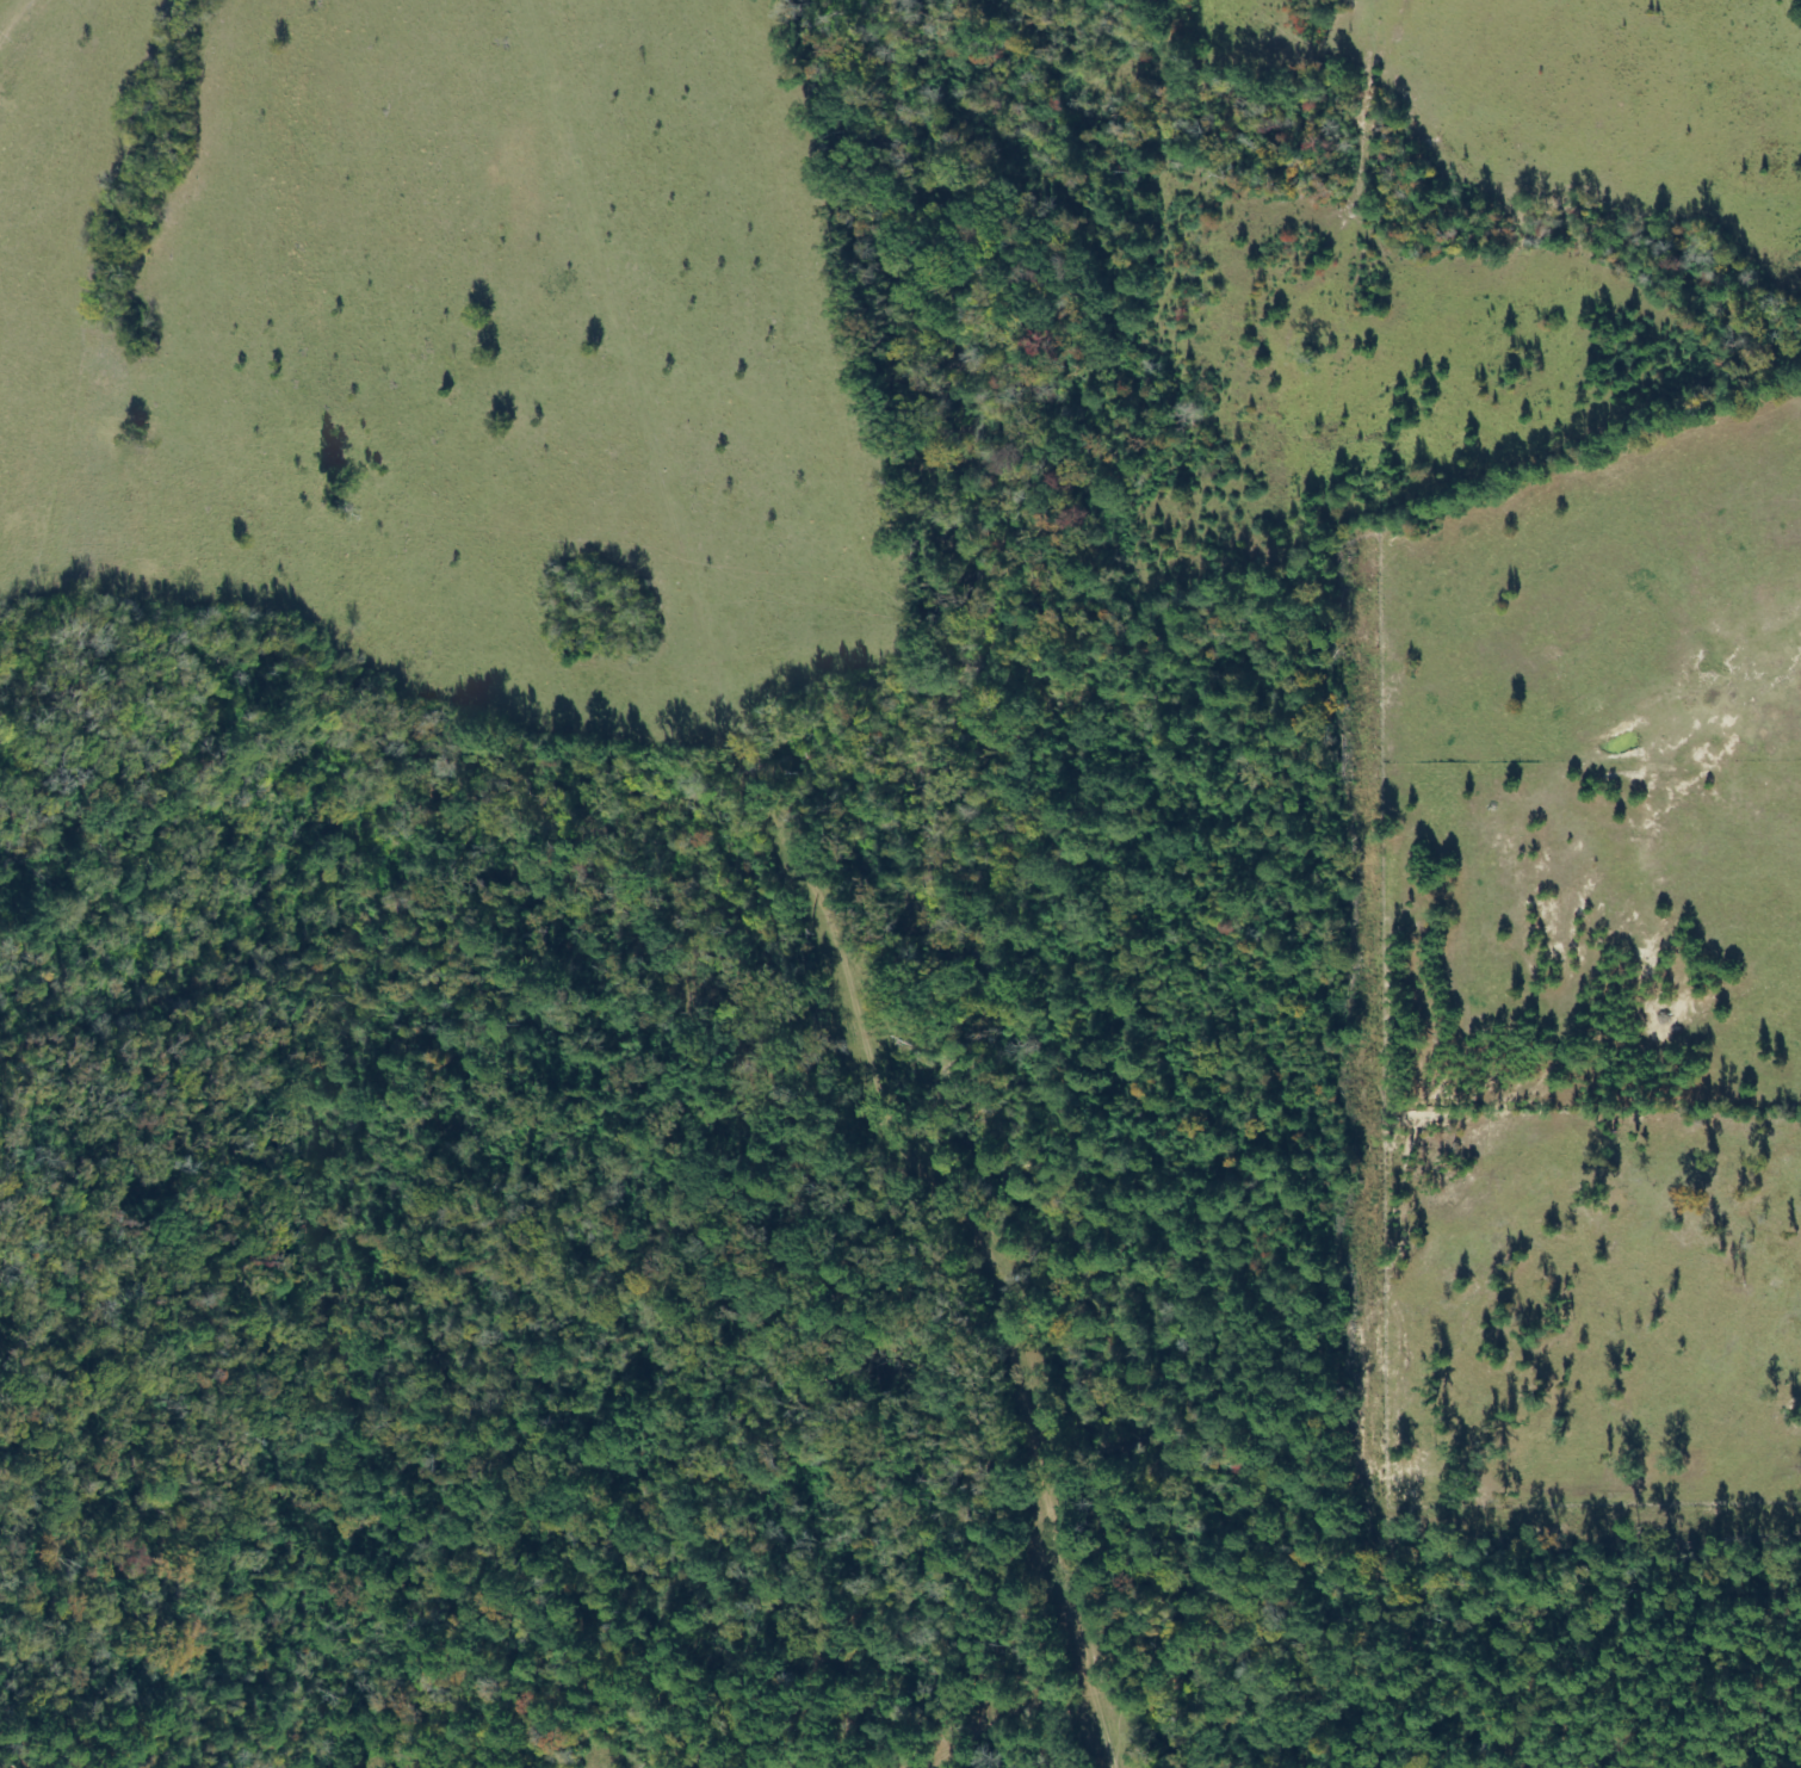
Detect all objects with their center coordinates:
road: (813, 889)

